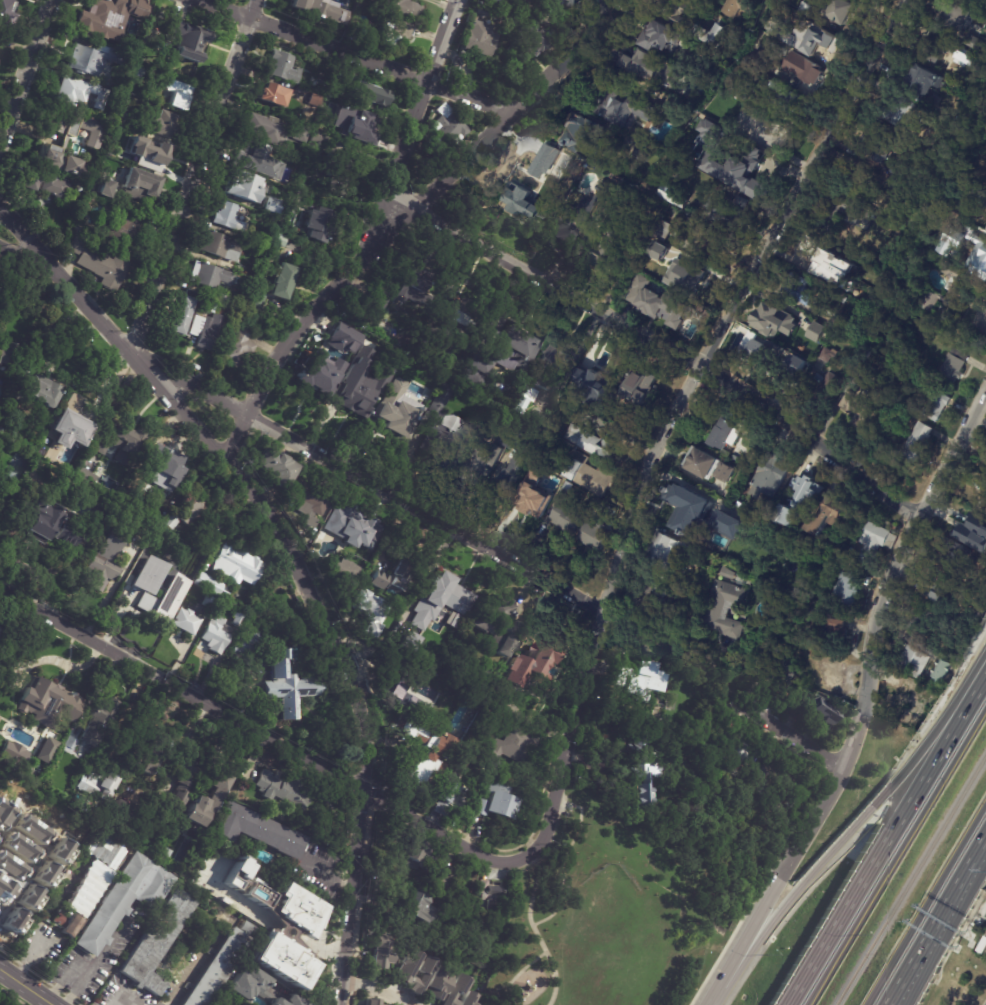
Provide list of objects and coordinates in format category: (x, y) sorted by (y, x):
building: (552, 1)
building: (971, 1)
building: (489, 2)
building: (573, 3)
building: (316, 6)
building: (741, 7)
building: (812, 7)
building: (3, 9)
building: (405, 9)
building: (482, 11)
building: (844, 11)
building: (953, 15)
building: (112, 16)
building: (544, 20)
building: (692, 23)
building: (397, 30)
building: (551, 32)
building: (661, 36)
building: (481, 39)
building: (790, 39)
building: (822, 40)
building: (973, 41)
building: (192, 43)
building: (526, 45)
building: (941, 49)
building: (761, 58)
building: (93, 59)
road: (354, 60)
building: (284, 67)
building: (136, 68)
building: (651, 68)
building: (804, 68)
road: (26, 70)
building: (926, 82)
building: (318, 85)
building: (335, 90)
building: (745, 92)
building: (79, 93)
building: (179, 94)
building: (274, 95)
building: (370, 95)
building: (788, 99)
building: (315, 100)
building: (620, 107)
building: (722, 109)
building: (901, 111)
building: (121, 119)
building: (326, 122)
building: (158, 123)
building: (364, 125)
building: (709, 126)
road: (414, 127)
building: (267, 129)
building: (117, 130)
building: (448, 130)
building: (303, 132)
building: (579, 133)
building: (778, 136)
building: (319, 139)
building: (130, 140)
building: (92, 142)
building: (877, 143)
building: (696, 145)
building: (644, 153)
building: (155, 154)
building: (256, 159)
building: (442, 160)
building: (539, 168)
building: (735, 170)
building: (908, 172)
building: (340, 175)
road: (193, 176)
building: (43, 183)
building: (140, 186)
building: (245, 187)
building: (860, 187)
building: (104, 189)
building: (609, 191)
building: (673, 194)
building: (978, 195)
building: (295, 200)
building: (522, 201)
building: (889, 205)
building: (272, 206)
building: (728, 211)
building: (842, 211)
building: (229, 218)
building: (275, 221)
building: (689, 222)
road: (407, 223)
building: (571, 223)
building: (956, 223)
building: (320, 225)
building: (127, 228)
building: (664, 231)
building: (985, 231)
building: (713, 243)
building: (221, 246)
building: (616, 247)
building: (661, 248)
building: (974, 256)
road: (28, 257)
building: (822, 260)
building: (100, 264)
building: (212, 276)
building: (686, 278)
building: (285, 282)
building: (800, 289)
building: (866, 290)
building: (400, 294)
building: (950, 294)
road: (735, 300)
building: (258, 302)
building: (657, 302)
building: (208, 306)
building: (185, 315)
building: (778, 319)
building: (829, 319)
building: (461, 320)
building: (814, 331)
building: (212, 333)
building: (358, 338)
building: (240, 347)
road: (677, 353)
building: (758, 353)
building: (7, 354)
building: (828, 355)
building: (504, 357)
building: (955, 366)
building: (549, 368)
building: (590, 378)
building: (321, 379)
building: (363, 385)
building: (824, 388)
building: (634, 390)
building: (36, 392)
building: (853, 396)
building: (527, 400)
building: (938, 405)
building: (607, 412)
building: (396, 414)
building: (82, 419)
building: (442, 427)
building: (69, 429)
building: (729, 430)
building: (1, 431)
building: (522, 440)
building: (127, 442)
building: (591, 443)
building: (919, 444)
building: (102, 449)
building: (48, 454)
building: (703, 464)
building: (481, 465)
building: (167, 467)
building: (277, 470)
road: (234, 473)
building: (728, 474)
building: (84, 475)
building: (589, 475)
building: (772, 475)
building: (513, 477)
road: (367, 482)
building: (567, 489)
building: (310, 499)
building: (535, 499)
building: (803, 502)
building: (132, 503)
building: (686, 504)
building: (983, 506)
building: (612, 512)
building: (187, 514)
building: (830, 516)
building: (742, 518)
building: (568, 519)
building: (311, 523)
building: (727, 524)
building: (49, 525)
building: (353, 527)
building: (218, 530)
building: (598, 535)
building: (977, 538)
building: (877, 542)
building: (671, 553)
building: (953, 555)
building: (162, 556)
building: (105, 563)
building: (238, 567)
road: (891, 570)
building: (346, 578)
building: (392, 580)
building: (147, 582)
building: (212, 587)
building: (849, 588)
building: (938, 588)
building: (170, 598)
building: (654, 599)
building: (211, 602)
building: (442, 602)
building: (725, 609)
building: (370, 612)
building: (981, 615)
building: (239, 620)
building: (930, 622)
building: (187, 623)
building: (457, 623)
building: (498, 627)
building: (0, 629)
building: (216, 637)
building: (828, 637)
building: (410, 645)
building: (248, 647)
building: (919, 660)
road: (64, 661)
building: (539, 664)
building: (945, 672)
building: (426, 676)
building: (780, 677)
road: (979, 677)
building: (833, 678)
building: (396, 681)
building: (642, 682)
building: (290, 687)
building: (411, 700)
building: (50, 703)
building: (911, 703)
building: (108, 709)
building: (827, 714)
road: (261, 731)
building: (88, 732)
road: (791, 736)
road: (571, 740)
road: (188, 741)
building: (512, 745)
building: (46, 750)
building: (734, 750)
building: (14, 754)
building: (152, 755)
building: (440, 755)
building: (642, 766)
road: (926, 769)
building: (17, 780)
building: (767, 782)
building: (99, 786)
building: (181, 791)
building: (286, 791)
building: (792, 791)
building: (446, 799)
building: (208, 803)
building: (500, 804)
building: (124, 811)
building: (471, 817)
building: (86, 829)
building: (257, 830)
road: (842, 840)
building: (107, 851)
road: (896, 855)
building: (164, 856)
building: (418, 856)
road: (566, 860)
road: (27, 868)
building: (252, 868)
building: (6, 872)
building: (238, 875)
road: (324, 877)
building: (443, 879)
railway: (911, 880)
road: (778, 883)
building: (487, 892)
building: (30, 893)
building: (84, 897)
road: (355, 897)
building: (126, 900)
building: (281, 903)
road: (925, 904)
building: (419, 905)
park: (616, 907)
road: (935, 919)
park: (612, 921)
building: (249, 928)
road: (832, 928)
road: (285, 930)
road: (536, 933)
building: (158, 942)
building: (379, 953)
road: (103, 955)
building: (278, 958)
road: (195, 962)
building: (406, 966)
building: (218, 969)
road: (519, 974)
building: (420, 975)
road: (72, 980)
building: (437, 984)
building: (249, 985)
road: (27, 986)
road: (374, 990)
building: (455, 990)
building: (469, 999)
building: (294, 1001)
road: (713, 1001)
building: (277, 1002)

